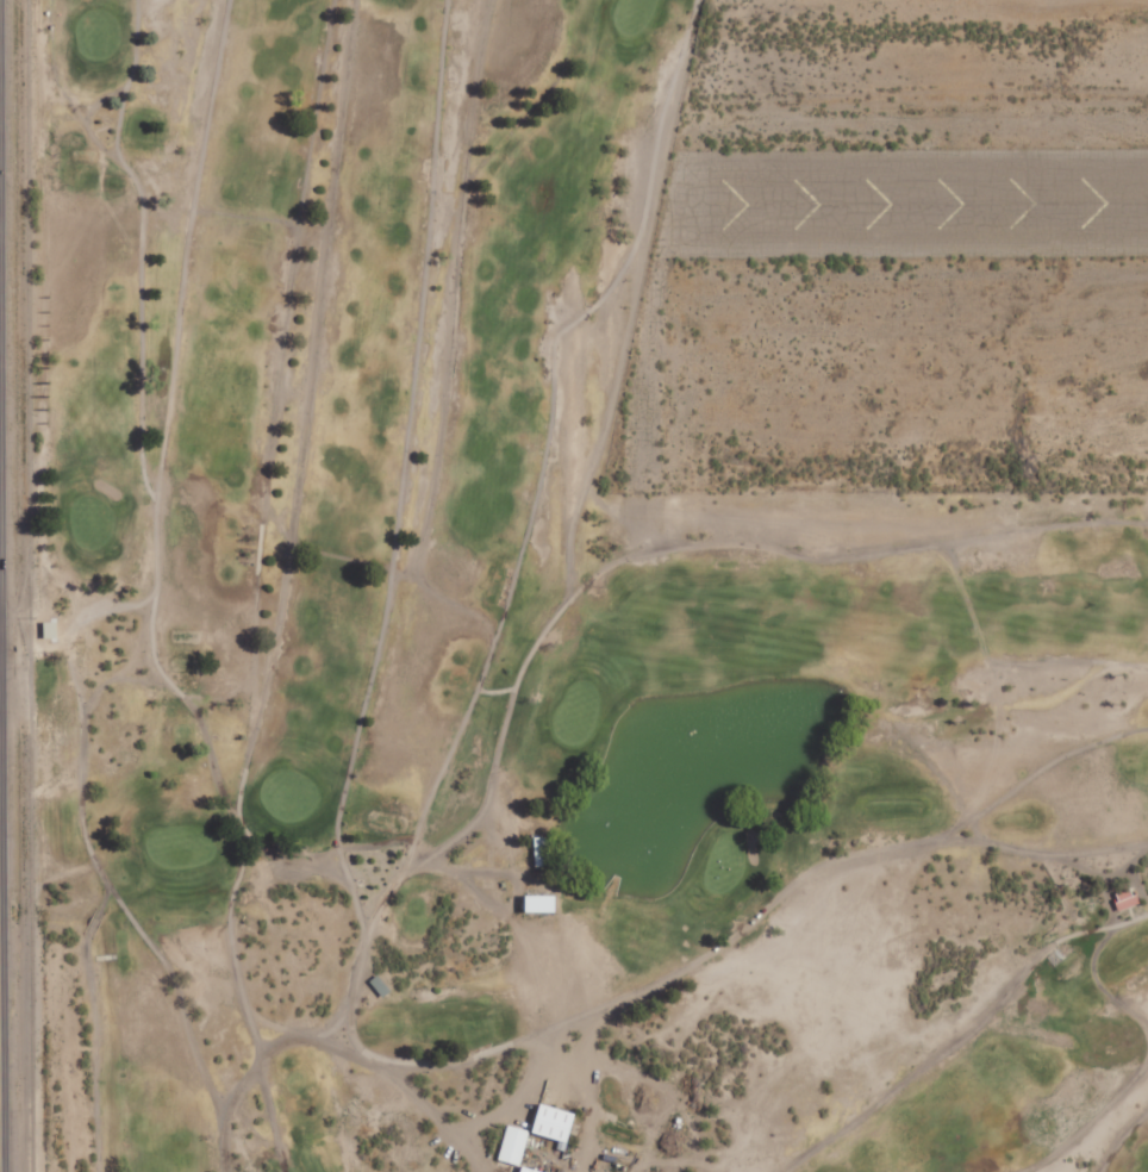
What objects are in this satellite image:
railway: (29, 585)
park: (526, 662)
building: (543, 850)
building: (1127, 897)
building: (534, 902)
road: (4, 942)
building: (555, 1121)
building: (514, 1143)
building: (530, 1170)

